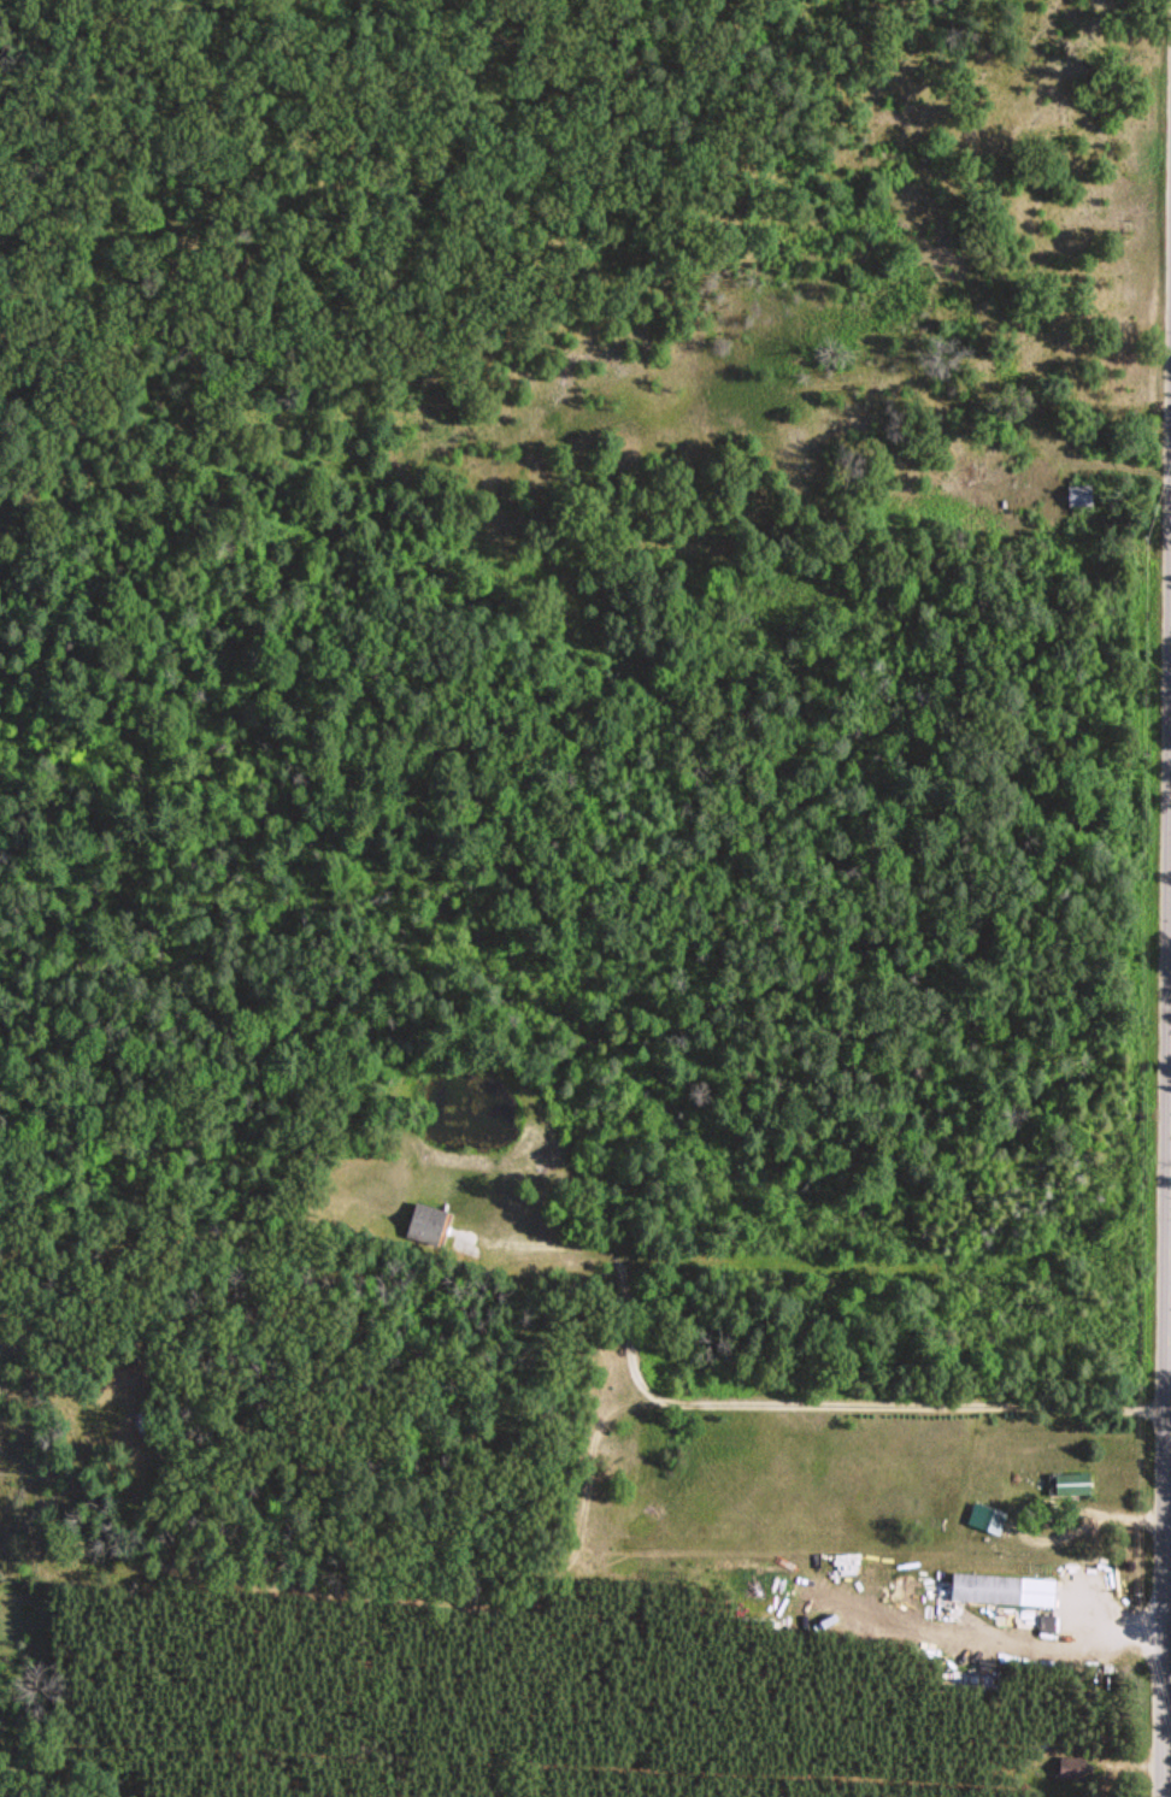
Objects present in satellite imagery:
building: (1076, 494)
building: (428, 1221)
road: (755, 1400)
building: (1069, 1481)
building: (1002, 1587)
road: (412, 1595)
road: (1170, 1677)
road: (1170, 1708)
building: (1071, 1764)

